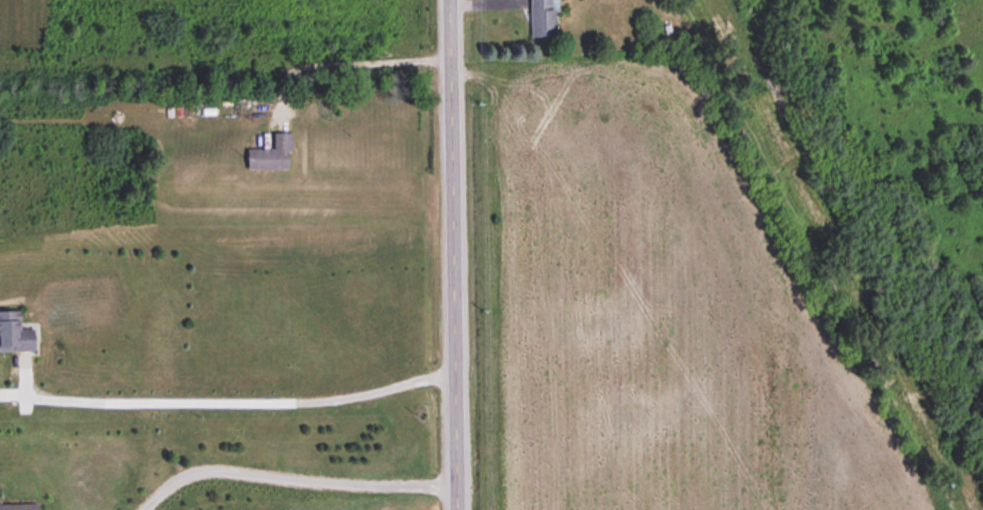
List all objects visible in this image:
building: (540, 18)
road: (341, 62)
building: (270, 155)
road: (452, 255)
building: (14, 333)
road: (232, 397)
road: (286, 472)
building: (18, 507)

